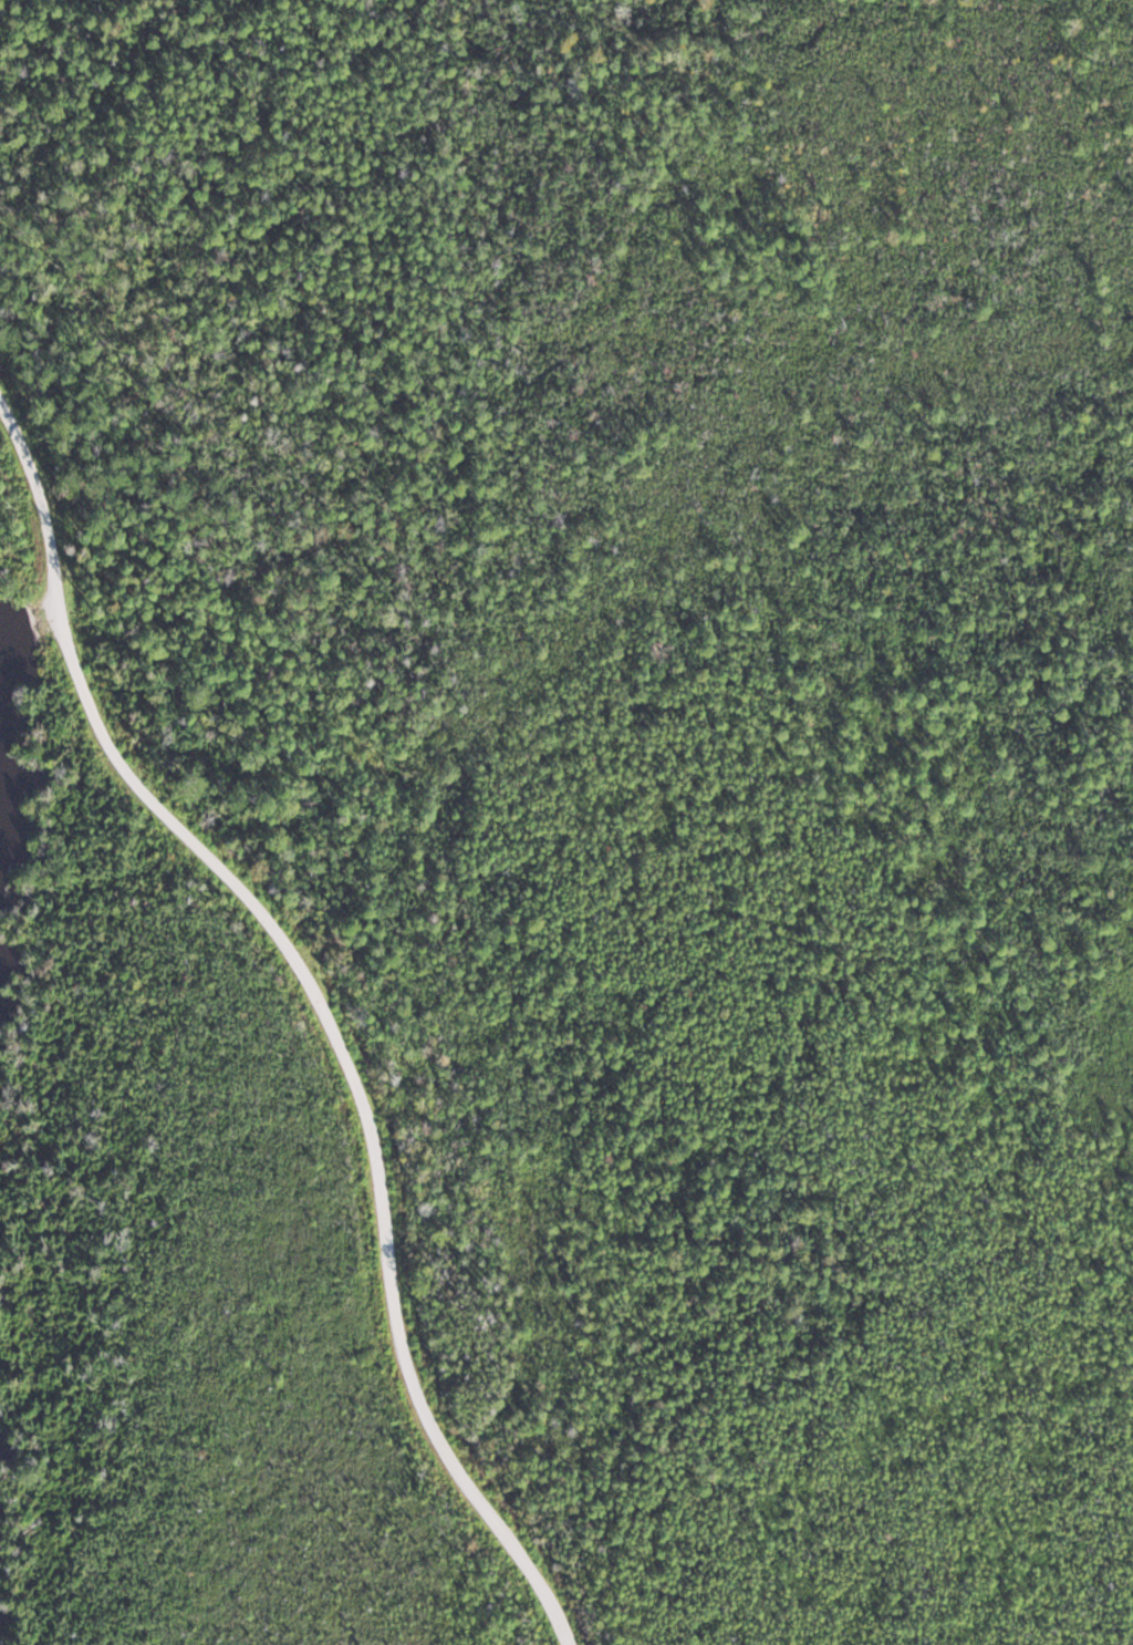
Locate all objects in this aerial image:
road: (319, 1006)

